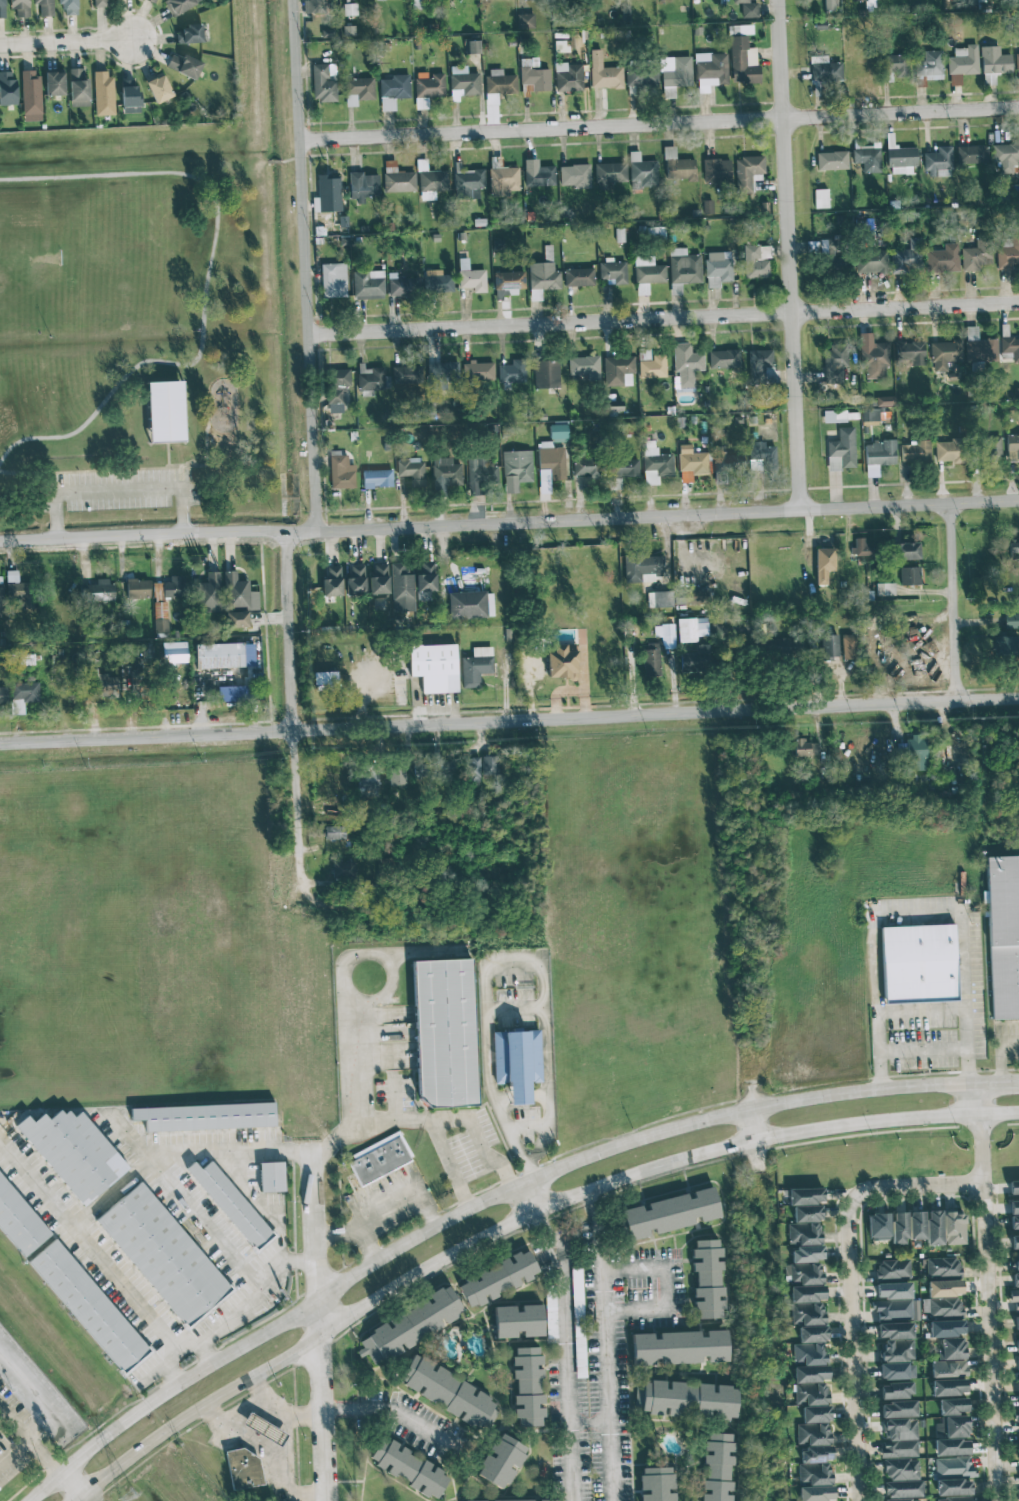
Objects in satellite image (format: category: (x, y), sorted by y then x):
building: (858, 0)
building: (151, 1)
building: (99, 3)
building: (829, 4)
building: (179, 5)
building: (68, 6)
building: (314, 6)
building: (19, 7)
building: (44, 7)
building: (747, 8)
building: (2, 9)
building: (525, 20)
building: (188, 34)
road: (65, 43)
building: (471, 47)
building: (1017, 57)
building: (742, 60)
building: (994, 60)
building: (962, 63)
building: (896, 64)
building: (184, 65)
building: (928, 67)
building: (710, 70)
building: (825, 70)
building: (603, 72)
building: (674, 73)
building: (534, 74)
building: (641, 76)
building: (568, 77)
building: (989, 79)
building: (464, 80)
building: (323, 82)
building: (54, 83)
building: (498, 84)
building: (158, 87)
building: (7, 88)
building: (78, 88)
building: (427, 88)
building: (358, 90)
building: (393, 90)
building: (103, 93)
building: (31, 96)
building: (129, 96)
road: (658, 122)
building: (971, 154)
building: (1005, 156)
building: (866, 157)
road: (290, 158)
building: (899, 158)
building: (831, 160)
road: (274, 161)
building: (938, 162)
building: (677, 166)
building: (716, 170)
building: (642, 172)
building: (747, 173)
building: (537, 174)
building: (609, 174)
building: (574, 175)
building: (397, 178)
building: (432, 183)
building: (468, 183)
building: (363, 186)
building: (327, 192)
building: (820, 198)
building: (1007, 253)
road: (789, 255)
building: (975, 255)
building: (906, 257)
building: (943, 258)
building: (756, 260)
building: (871, 261)
road: (303, 264)
building: (717, 268)
building: (683, 269)
building: (612, 271)
building: (543, 272)
building: (647, 273)
building: (578, 276)
building: (471, 277)
building: (333, 280)
building: (433, 280)
road: (206, 284)
building: (367, 284)
building: (401, 285)
road: (662, 317)
park: (131, 325)
building: (979, 347)
building: (1010, 347)
building: (910, 351)
building: (644, 354)
building: (944, 354)
building: (873, 357)
building: (723, 359)
building: (686, 363)
building: (834, 363)
building: (584, 367)
building: (652, 367)
building: (618, 371)
building: (443, 372)
building: (511, 372)
building: (545, 373)
building: (406, 374)
building: (372, 380)
building: (885, 400)
building: (165, 411)
building: (870, 414)
building: (834, 416)
building: (558, 432)
building: (990, 448)
building: (841, 450)
building: (947, 450)
building: (915, 451)
building: (879, 452)
building: (761, 456)
building: (551, 459)
building: (655, 463)
building: (691, 463)
building: (728, 463)
building: (517, 465)
building: (585, 466)
building: (623, 470)
building: (341, 471)
building: (411, 471)
building: (445, 472)
building: (479, 475)
building: (720, 477)
building: (377, 478)
road: (116, 489)
road: (509, 522)
building: (860, 547)
building: (906, 550)
building: (1014, 557)
building: (823, 564)
building: (640, 567)
building: (909, 575)
building: (355, 579)
building: (379, 580)
building: (425, 580)
building: (332, 582)
building: (137, 588)
building: (169, 588)
building: (402, 588)
building: (885, 588)
building: (97, 591)
building: (209, 592)
building: (239, 592)
building: (21, 594)
building: (697, 595)
building: (659, 599)
building: (0, 601)
road: (955, 601)
building: (470, 604)
building: (160, 617)
building: (236, 619)
building: (1011, 621)
building: (691, 629)
building: (773, 643)
building: (1005, 644)
building: (828, 645)
building: (848, 647)
building: (658, 648)
building: (174, 651)
building: (224, 655)
building: (694, 660)
building: (561, 662)
building: (475, 666)
building: (434, 667)
building: (324, 678)
building: (136, 683)
building: (106, 686)
building: (233, 693)
building: (3, 695)
building: (23, 695)
road: (293, 711)
road: (509, 719)
building: (804, 747)
building: (916, 754)
building: (446, 765)
building: (490, 765)
building: (419, 770)
building: (472, 770)
building: (396, 776)
building: (366, 784)
building: (334, 832)
building: (344, 869)
building: (1003, 935)
building: (918, 963)
road: (498, 966)
road: (386, 993)
road: (965, 999)
road: (514, 1009)
road: (881, 1010)
building: (443, 1032)
road: (999, 1053)
road: (923, 1054)
building: (516, 1062)
road: (975, 1102)
building: (204, 1116)
road: (364, 1118)
road: (752, 1128)
road: (131, 1138)
road: (483, 1140)
building: (73, 1152)
building: (378, 1157)
building: (270, 1176)
road: (35, 1184)
road: (914, 1186)
road: (380, 1189)
road: (588, 1200)
road: (533, 1201)
road: (99, 1204)
road: (491, 1204)
building: (232, 1205)
building: (670, 1213)
building: (19, 1221)
building: (916, 1225)
road: (516, 1226)
building: (878, 1226)
road: (210, 1227)
building: (933, 1227)
building: (899, 1228)
building: (954, 1228)
road: (340, 1229)
road: (550, 1234)
building: (805, 1236)
building: (1014, 1240)
building: (164, 1256)
building: (942, 1266)
building: (892, 1269)
building: (497, 1278)
building: (707, 1279)
road: (664, 1287)
building: (944, 1288)
building: (895, 1302)
road: (248, 1303)
building: (806, 1305)
building: (940, 1306)
building: (90, 1308)
road: (988, 1309)
building: (550, 1316)
building: (517, 1320)
building: (1016, 1321)
building: (578, 1322)
building: (409, 1326)
road: (323, 1328)
building: (946, 1328)
building: (1018, 1340)
building: (895, 1341)
road: (185, 1345)
building: (810, 1345)
road: (850, 1345)
building: (679, 1347)
building: (951, 1348)
road: (606, 1352)
road: (156, 1368)
building: (948, 1368)
building: (896, 1370)
road: (569, 1377)
building: (810, 1384)
road: (38, 1386)
building: (527, 1386)
building: (948, 1387)
building: (896, 1390)
building: (447, 1392)
building: (686, 1398)
building: (952, 1406)
road: (243, 1407)
building: (898, 1409)
road: (282, 1411)
road: (393, 1412)
road: (13, 1423)
building: (813, 1426)
building: (264, 1429)
road: (29, 1436)
building: (952, 1436)
building: (899, 1438)
road: (289, 1451)
road: (269, 1453)
road: (44, 1458)
building: (500, 1460)
building: (814, 1465)
building: (717, 1467)
building: (408, 1468)
building: (243, 1469)
building: (953, 1475)
building: (656, 1484)
road: (72, 1487)
building: (904, 1489)
building: (816, 1493)
power tower: (127, 1495)
building: (1017, 1495)
building: (954, 1499)
building: (518, 1500)
building: (904, 1500)

